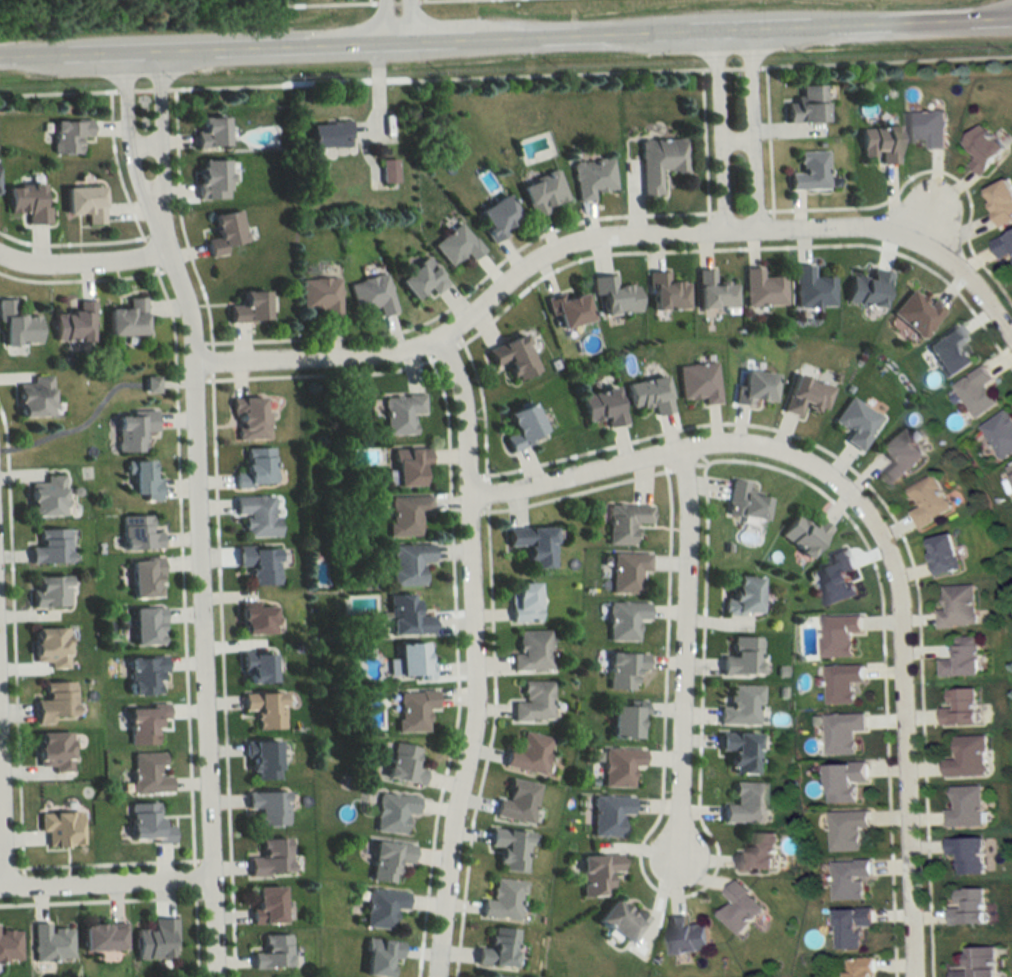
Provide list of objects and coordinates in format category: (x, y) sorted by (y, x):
road: (366, 1)
road: (390, 24)
road: (506, 43)
building: (804, 104)
building: (926, 127)
building: (213, 132)
road: (748, 133)
road: (721, 134)
building: (72, 135)
building: (332, 135)
road: (145, 139)
road: (735, 139)
building: (876, 143)
building: (982, 148)
building: (657, 161)
building: (807, 171)
building: (590, 177)
building: (215, 179)
road: (147, 187)
building: (540, 192)
building: (30, 201)
building: (1000, 201)
building: (88, 202)
building: (493, 216)
building: (228, 232)
road: (610, 241)
building: (454, 244)
building: (1002, 245)
road: (83, 259)
building: (418, 278)
building: (761, 288)
building: (809, 288)
building: (866, 289)
building: (711, 291)
building: (664, 292)
building: (370, 295)
building: (319, 296)
building: (612, 296)
building: (245, 307)
building: (566, 308)
building: (916, 313)
building: (130, 318)
building: (76, 324)
building: (19, 325)
building: (948, 352)
building: (510, 356)
building: (697, 382)
building: (752, 387)
building: (975, 391)
building: (646, 394)
building: (803, 395)
building: (38, 398)
building: (600, 407)
building: (399, 413)
building: (248, 420)
building: (855, 422)
building: (518, 426)
building: (129, 429)
building: (999, 433)
building: (898, 455)
building: (405, 465)
building: (254, 469)
building: (1010, 469)
building: (140, 480)
building: (51, 497)
building: (742, 502)
building: (928, 502)
building: (255, 515)
building: (405, 515)
building: (622, 521)
building: (136, 532)
building: (801, 534)
road: (872, 534)
building: (529, 544)
building: (54, 546)
building: (942, 554)
building: (406, 563)
building: (257, 565)
building: (626, 571)
building: (142, 576)
building: (835, 578)
road: (204, 579)
building: (52, 591)
building: (739, 596)
building: (520, 601)
building: (956, 607)
building: (403, 616)
building: (252, 619)
building: (622, 620)
building: (144, 626)
building: (838, 634)
building: (54, 647)
building: (529, 651)
building: (740, 657)
road: (469, 658)
building: (961, 658)
building: (410, 661)
road: (677, 667)
building: (253, 668)
building: (622, 669)
building: (142, 676)
building: (841, 683)
building: (58, 702)
building: (532, 702)
building: (740, 706)
building: (958, 706)
building: (261, 709)
building: (412, 709)
building: (622, 720)
building: (142, 723)
building: (841, 732)
building: (57, 751)
building: (738, 751)
building: (526, 753)
building: (966, 757)
building: (259, 759)
building: (401, 764)
building: (618, 765)
building: (146, 774)
building: (842, 781)
building: (515, 801)
building: (744, 803)
road: (3, 804)
building: (265, 806)
building: (964, 807)
building: (390, 811)
building: (607, 814)
building: (143, 824)
building: (63, 829)
building: (846, 829)
building: (507, 847)
building: (756, 852)
building: (966, 854)
building: (267, 858)
building: (385, 859)
building: (593, 873)
building: (848, 879)
road: (108, 881)
building: (501, 899)
building: (263, 904)
building: (380, 907)
building: (967, 907)
building: (737, 908)
building: (618, 920)
building: (849, 926)
building: (685, 936)
building: (99, 937)
building: (153, 939)
building: (50, 943)
building: (10, 945)
building: (495, 949)
building: (270, 952)
building: (377, 956)
building: (977, 963)
building: (858, 967)
building: (484, 976)

